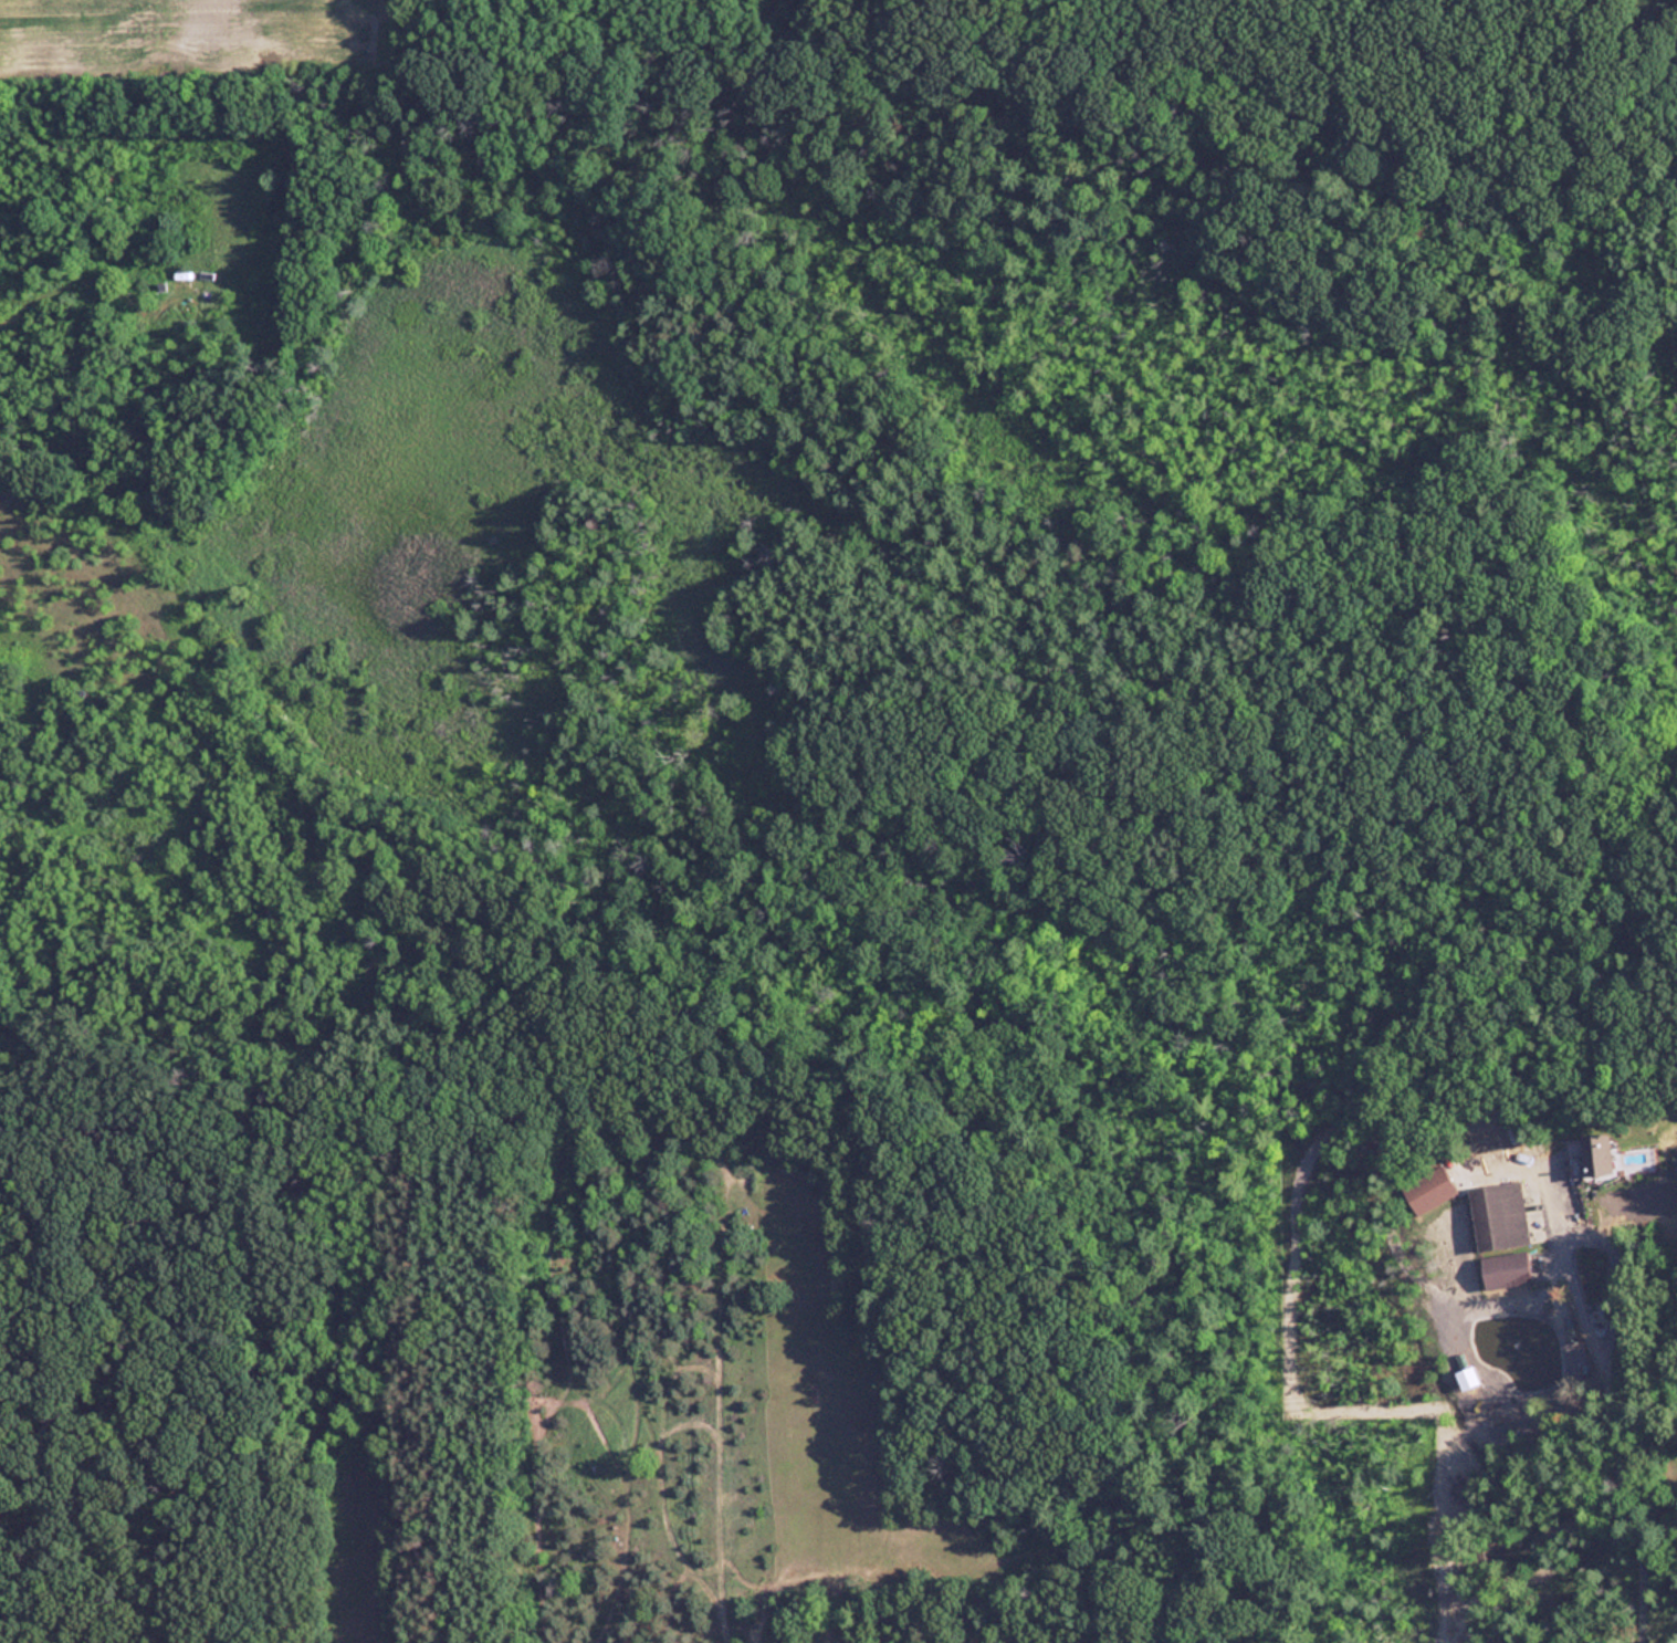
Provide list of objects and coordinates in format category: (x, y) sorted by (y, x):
building: (1596, 1154)
building: (1430, 1190)
building: (1499, 1216)
building: (1506, 1270)
road: (1627, 1458)
road: (721, 1642)

